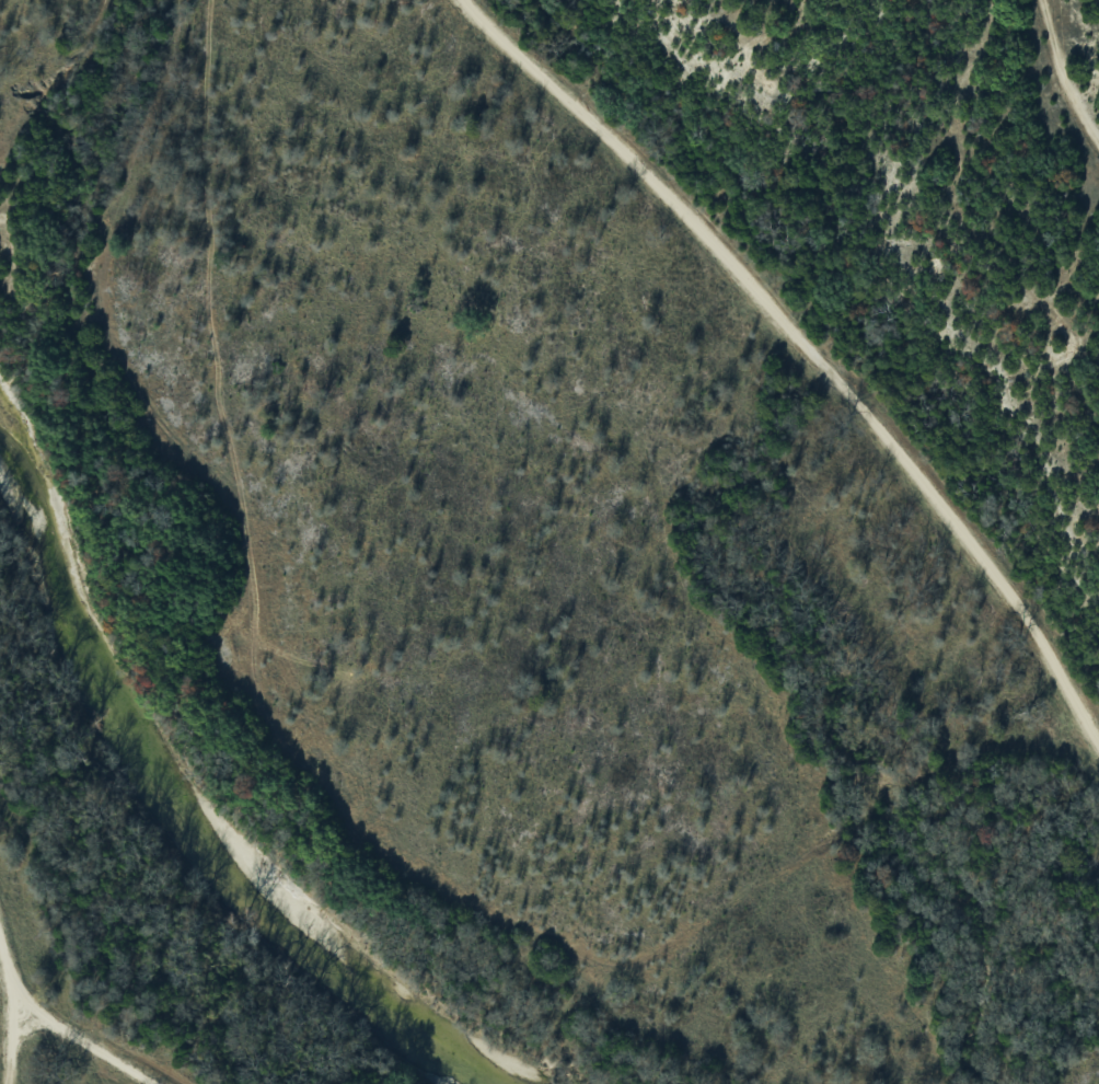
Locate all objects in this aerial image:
road: (809, 351)
river: (175, 809)
road: (4, 1013)
road: (86, 1038)

